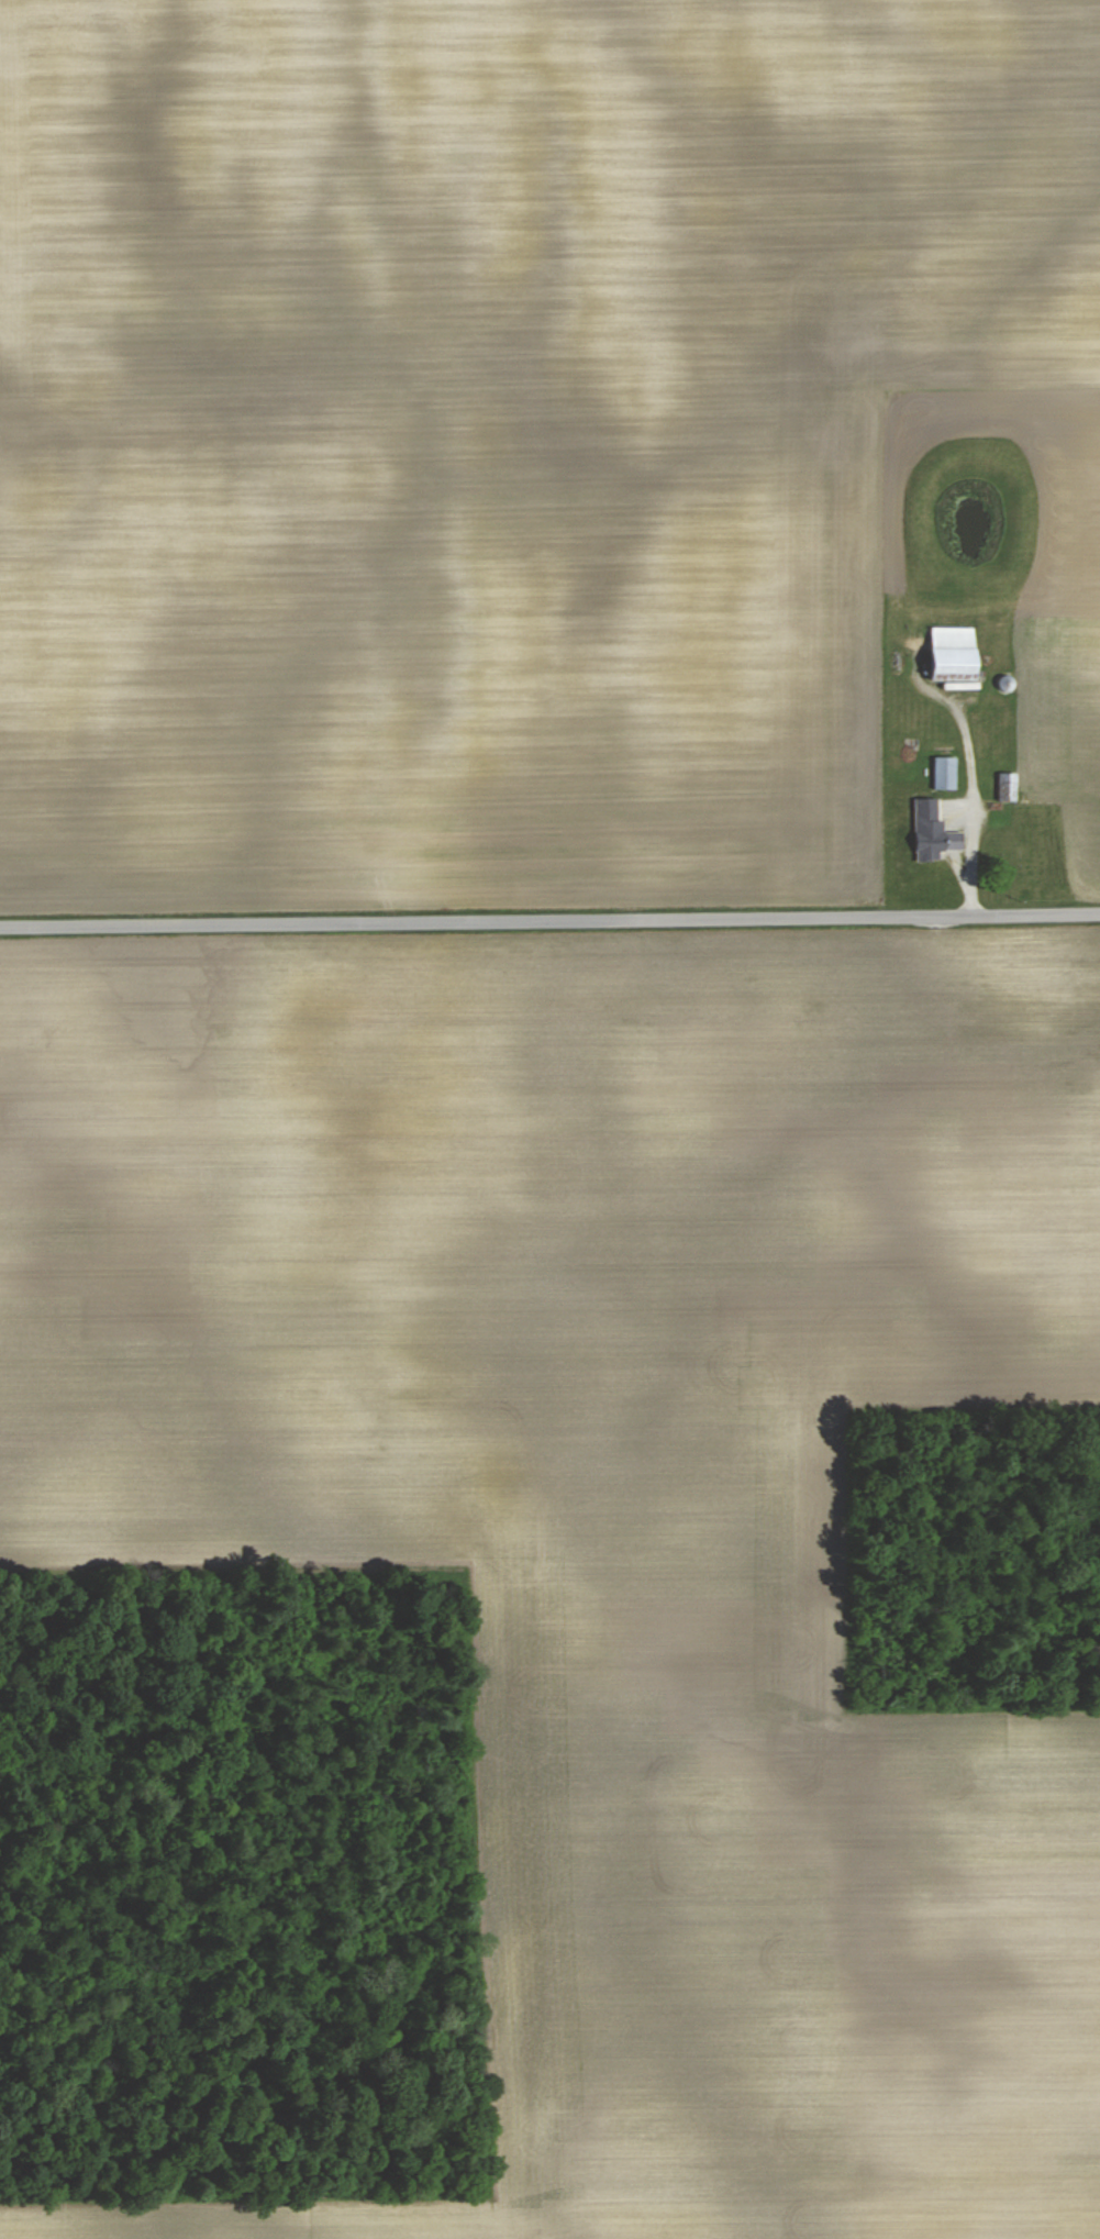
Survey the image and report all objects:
building: (949, 653)
building: (944, 773)
building: (1010, 786)
road: (549, 920)

